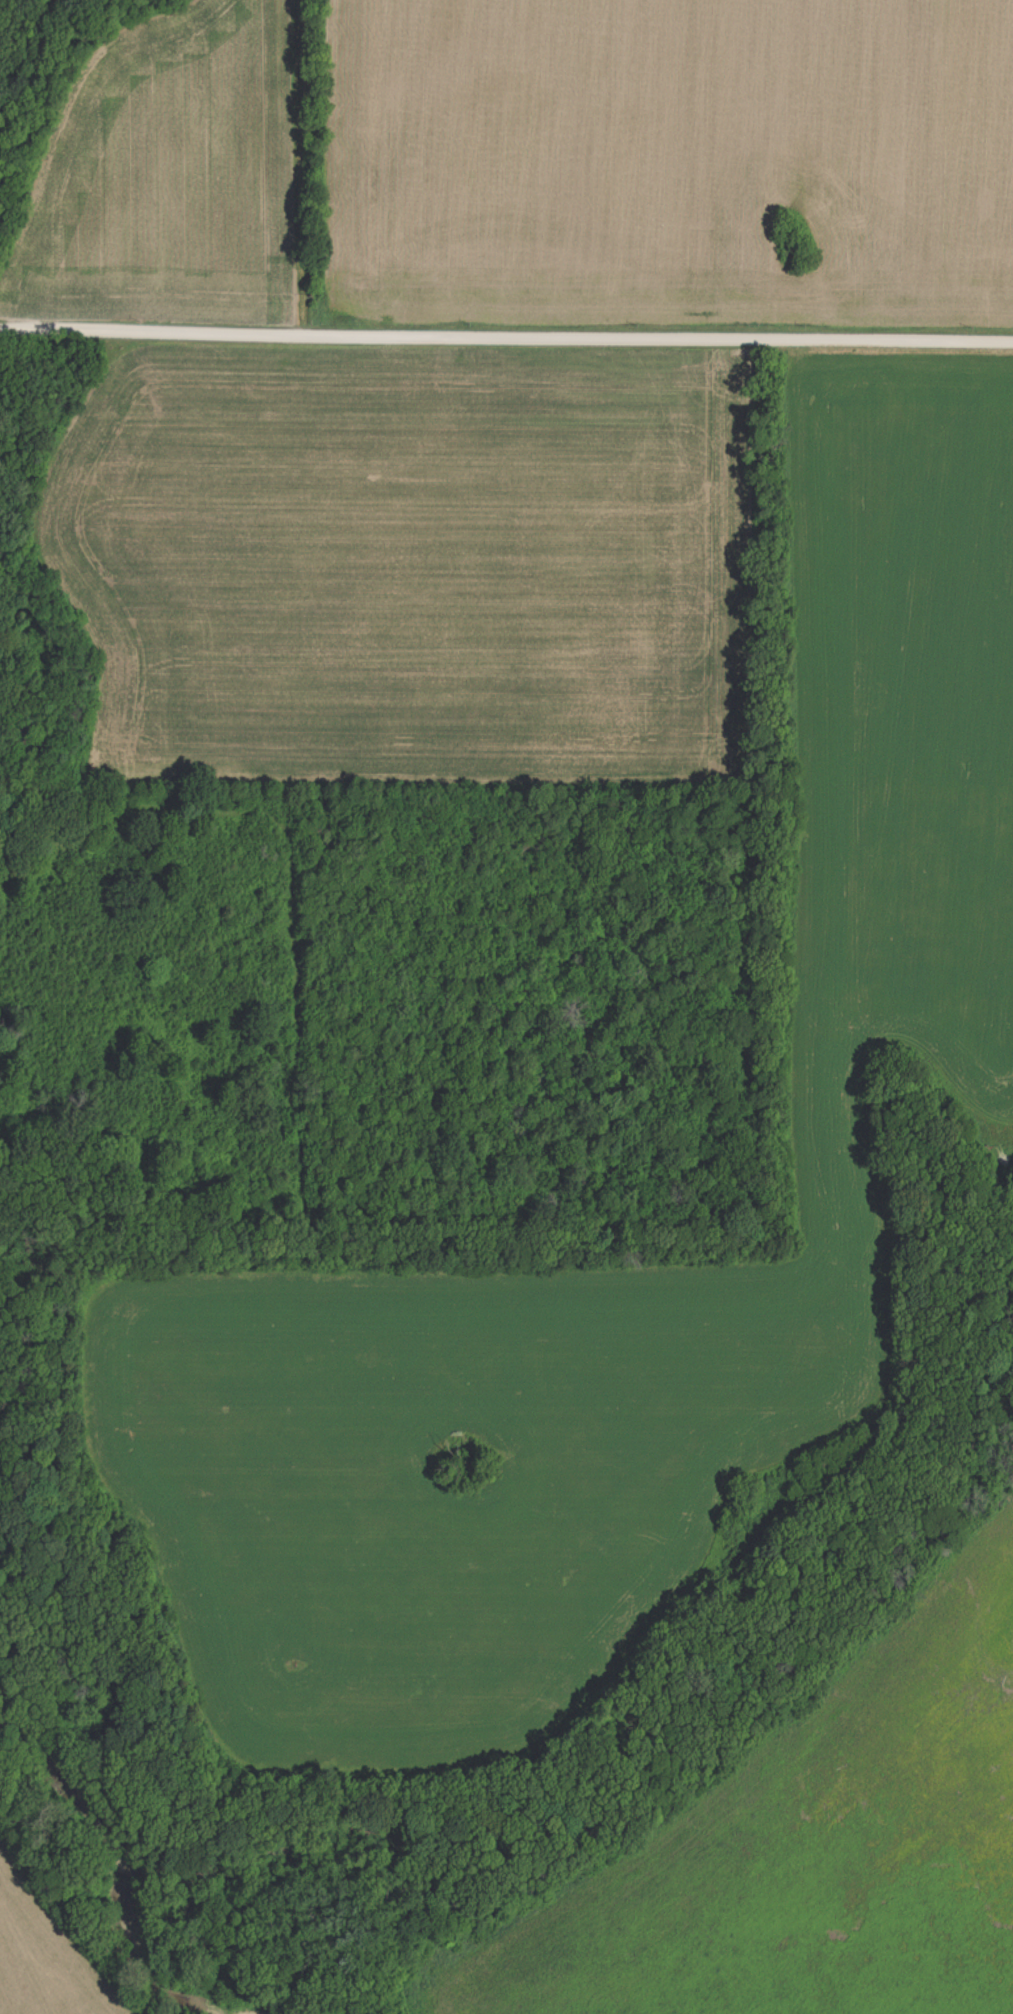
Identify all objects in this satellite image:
road: (506, 319)

